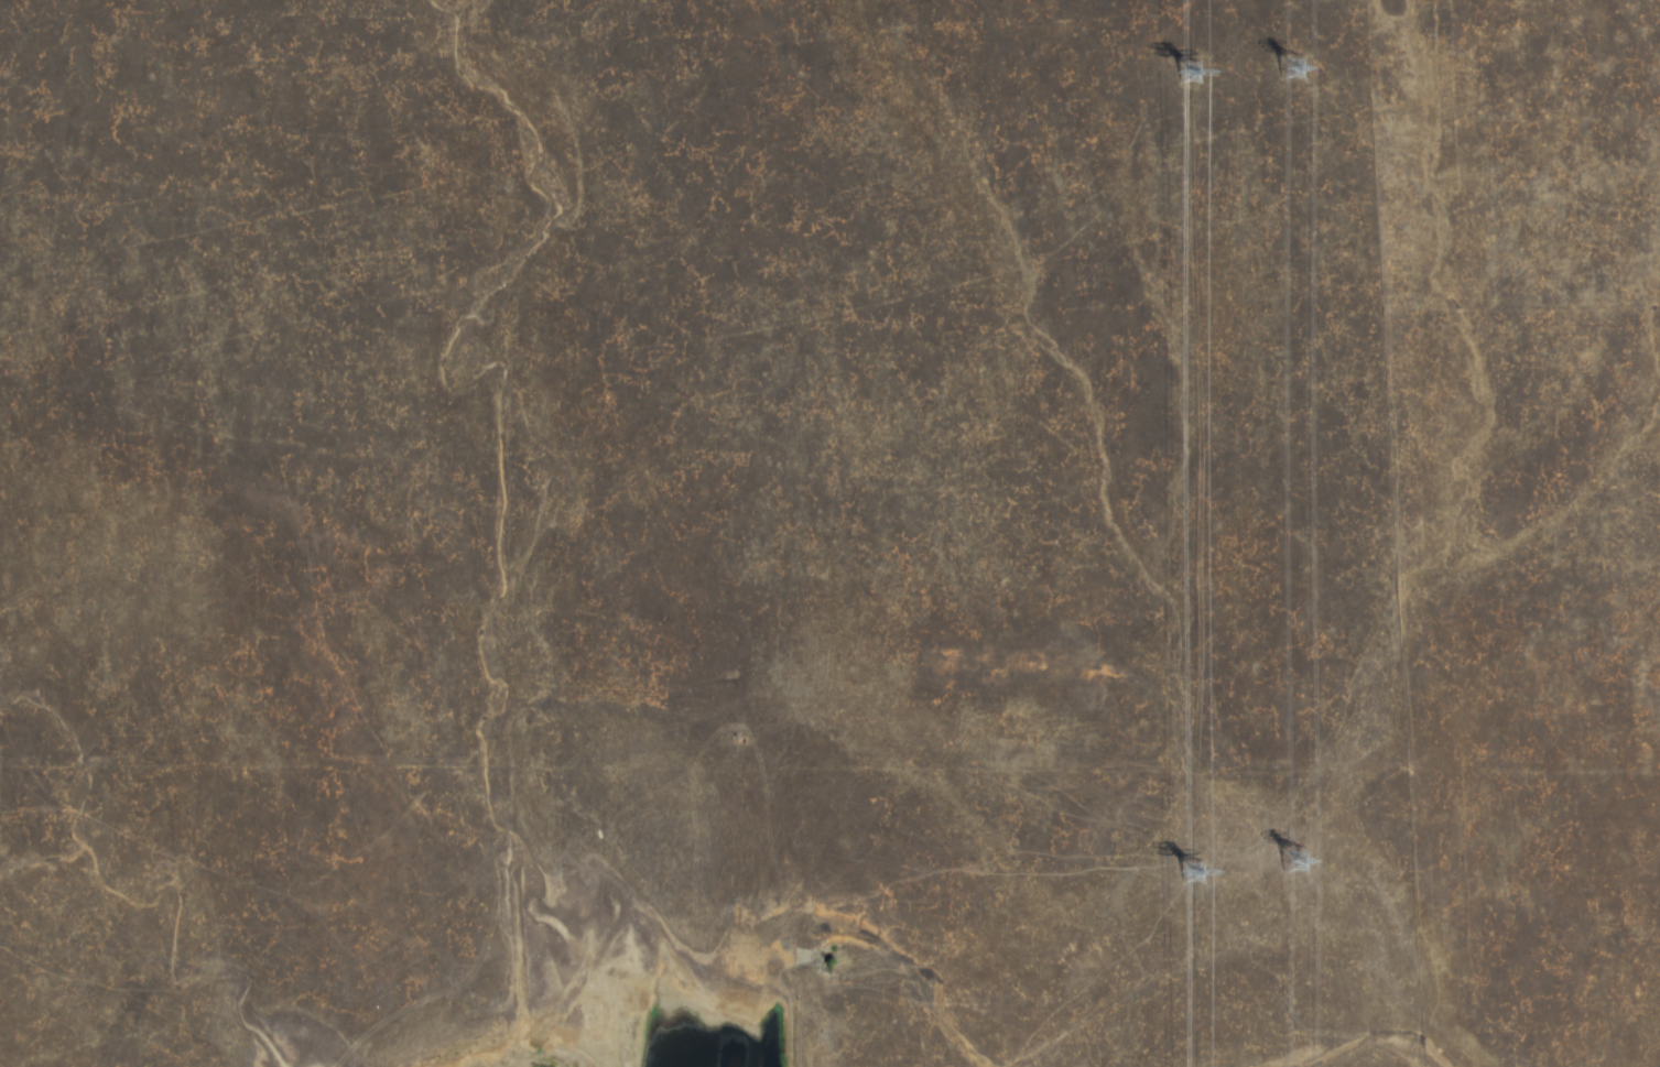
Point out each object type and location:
power tower: (1187, 68)
power tower: (1291, 74)
power tower: (1191, 850)
power tower: (1295, 851)

